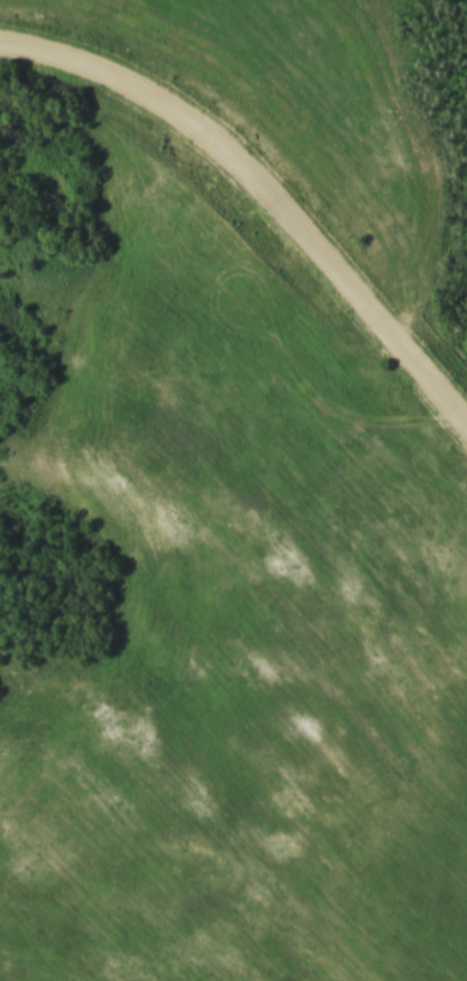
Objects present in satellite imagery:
road: (263, 185)

